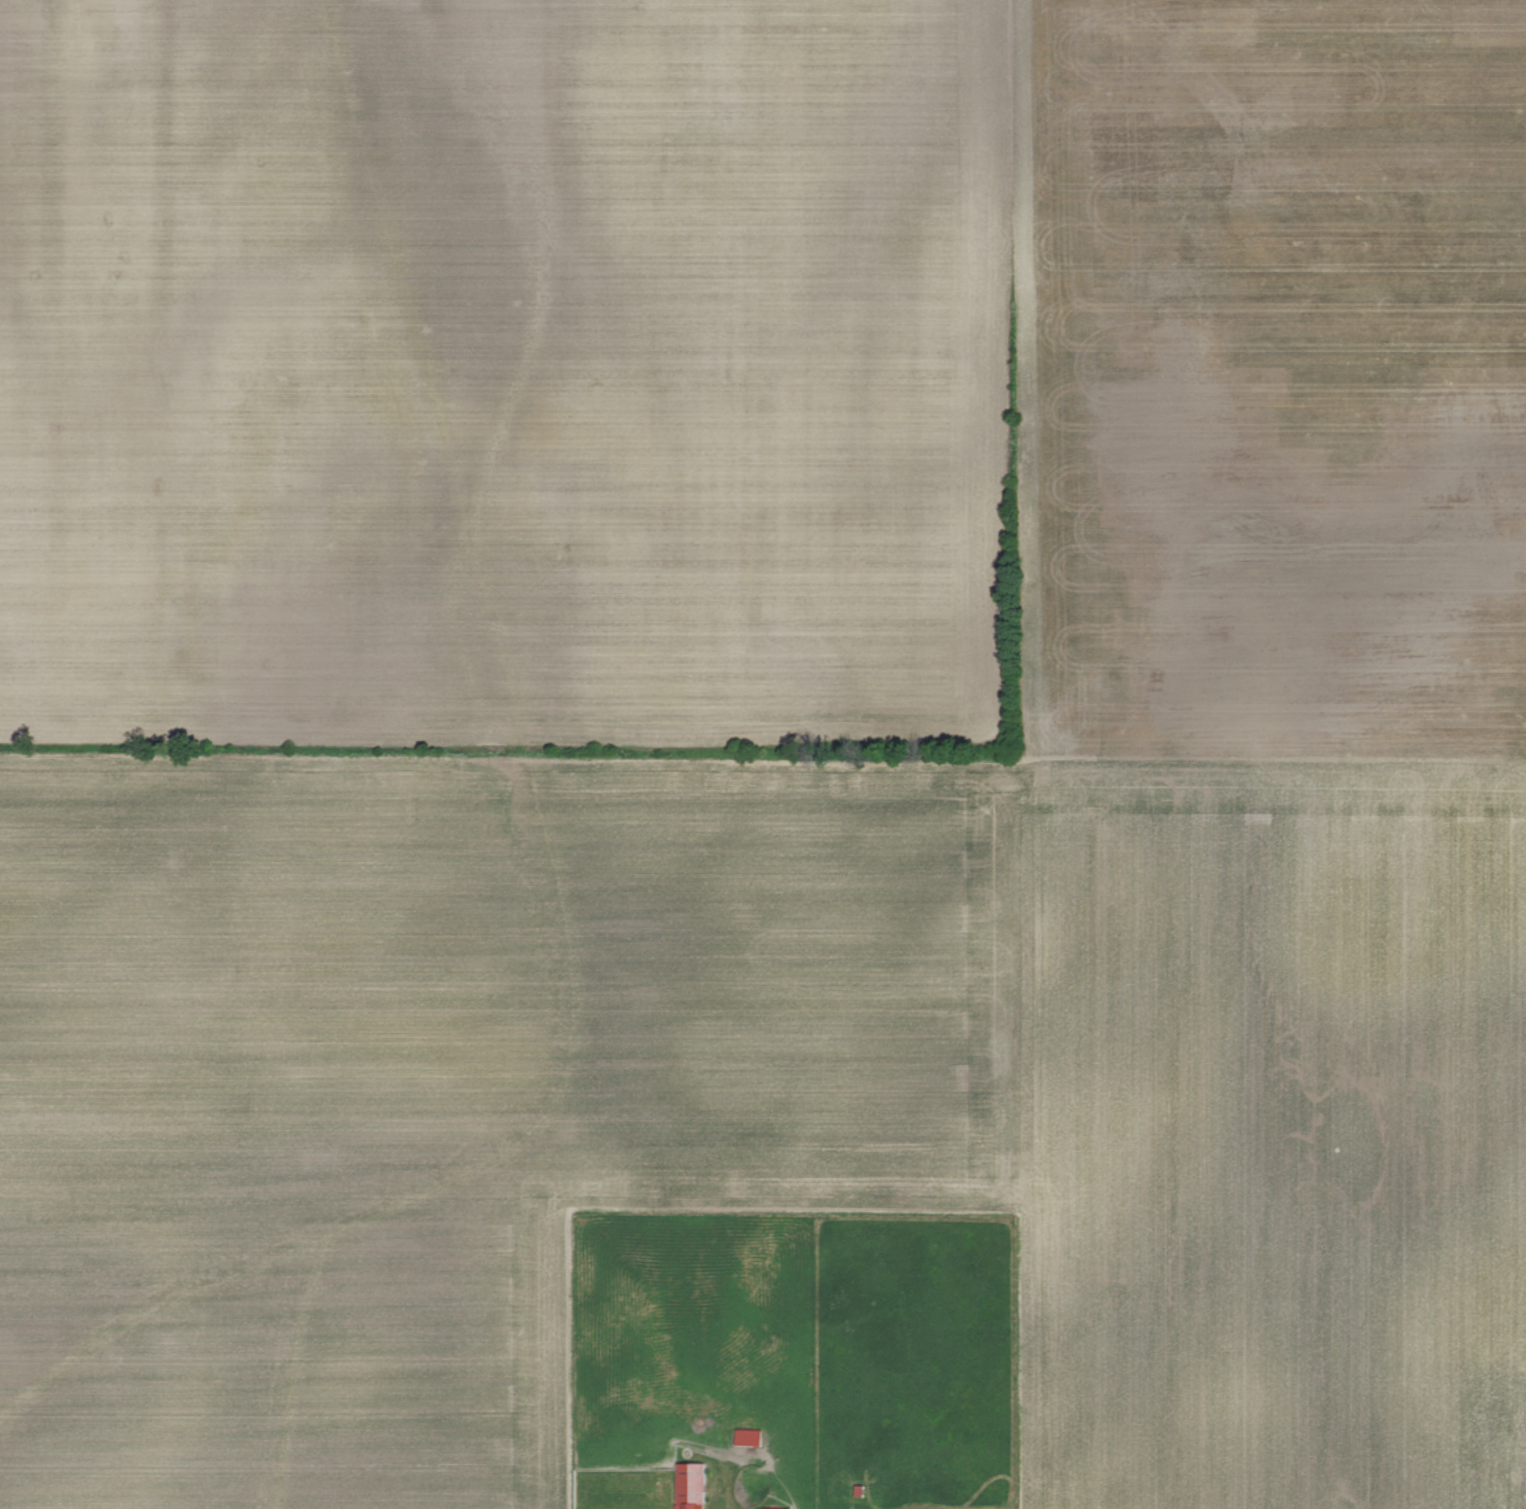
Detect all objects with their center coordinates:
building: (749, 1438)
building: (693, 1481)

